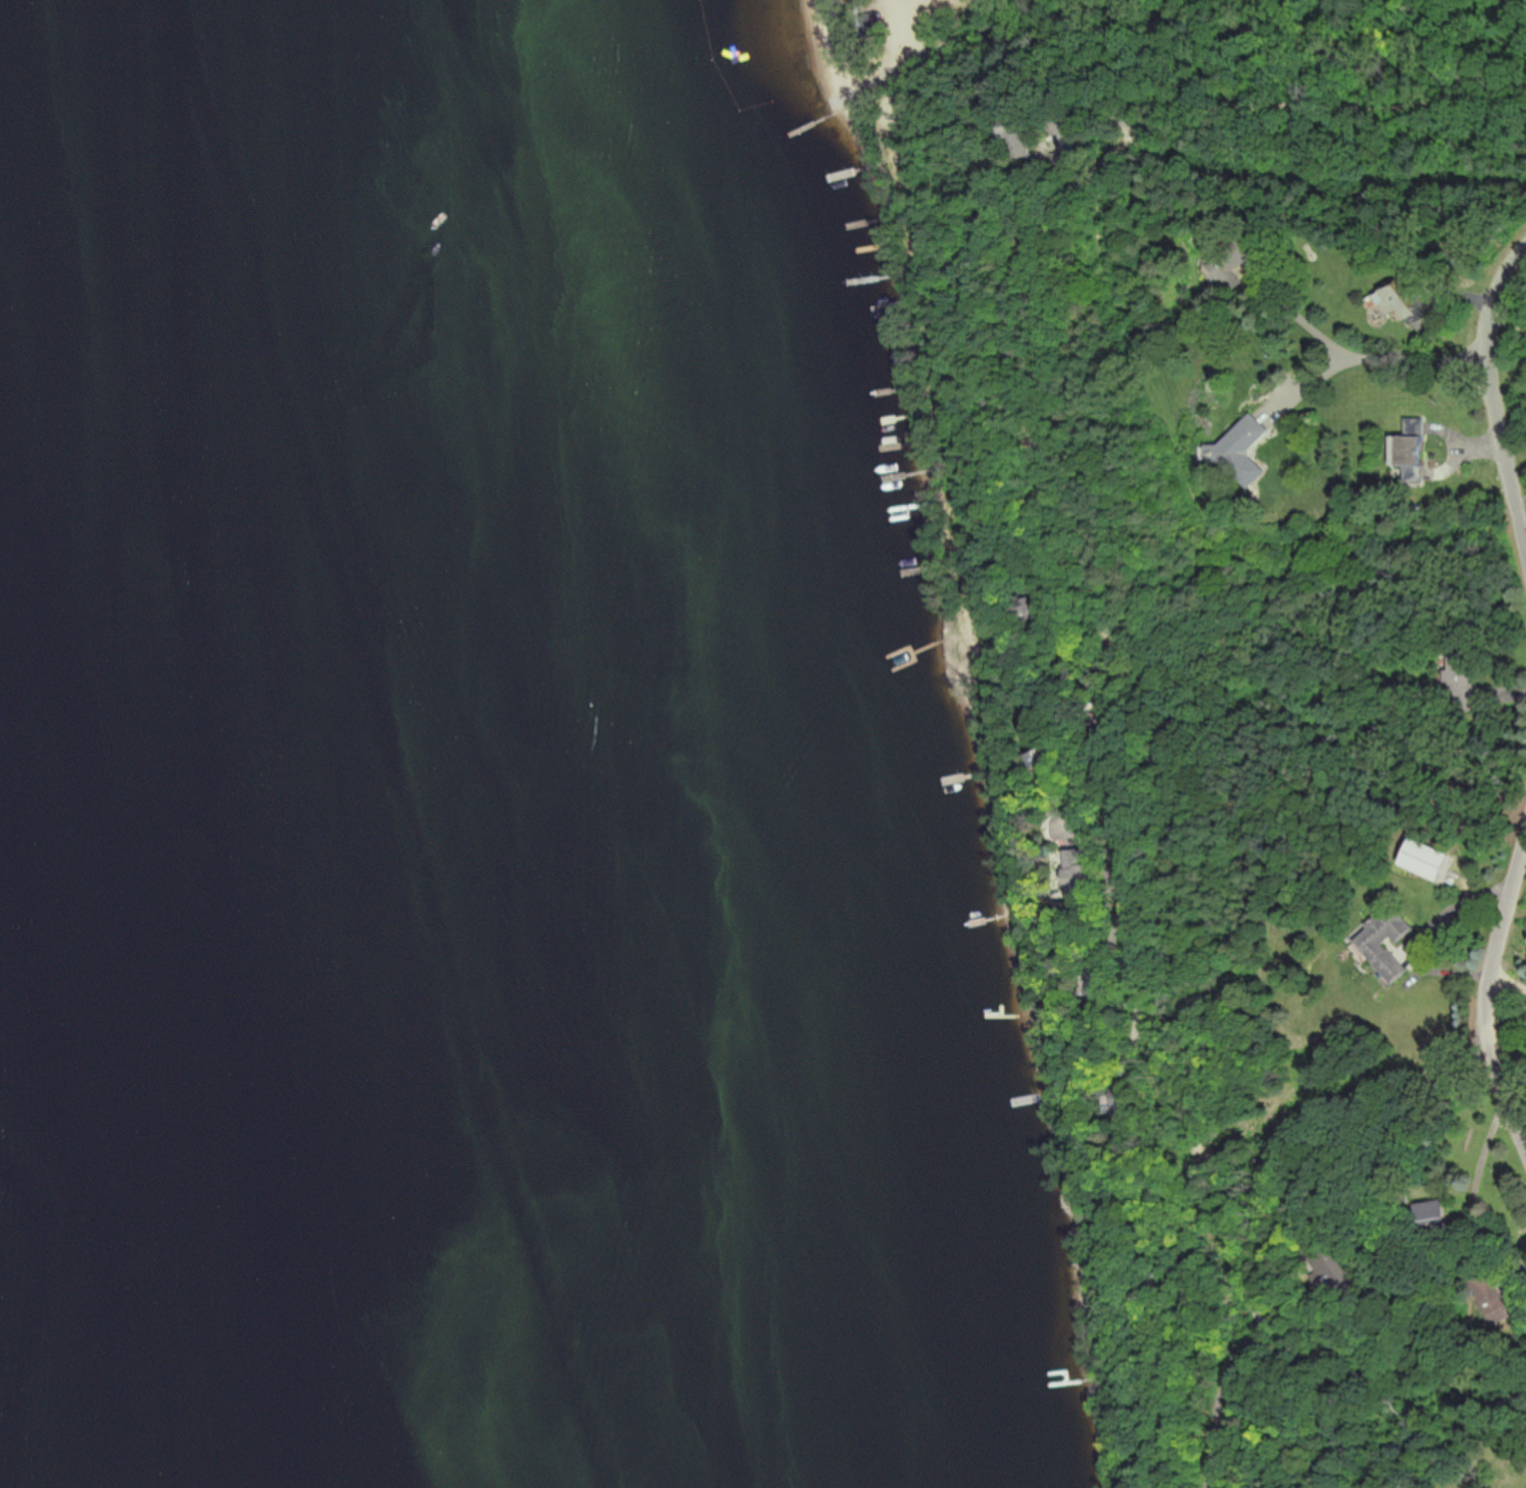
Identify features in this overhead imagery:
road: (1237, 28)
building: (1030, 140)
building: (1067, 163)
building: (1403, 304)
road: (1372, 355)
road: (1311, 386)
road: (1499, 388)
building: (1243, 448)
building: (1412, 453)
road: (1078, 568)
building: (1039, 614)
building: (1465, 670)
river: (338, 744)
building: (1053, 759)
building: (1430, 860)
building: (1085, 882)
building: (1388, 943)
building: (1109, 982)
road: (1510, 984)
road: (1494, 1004)
building: (1130, 1105)
road: (1345, 1139)
building: (1161, 1191)
building: (1333, 1269)
road: (1274, 1310)

